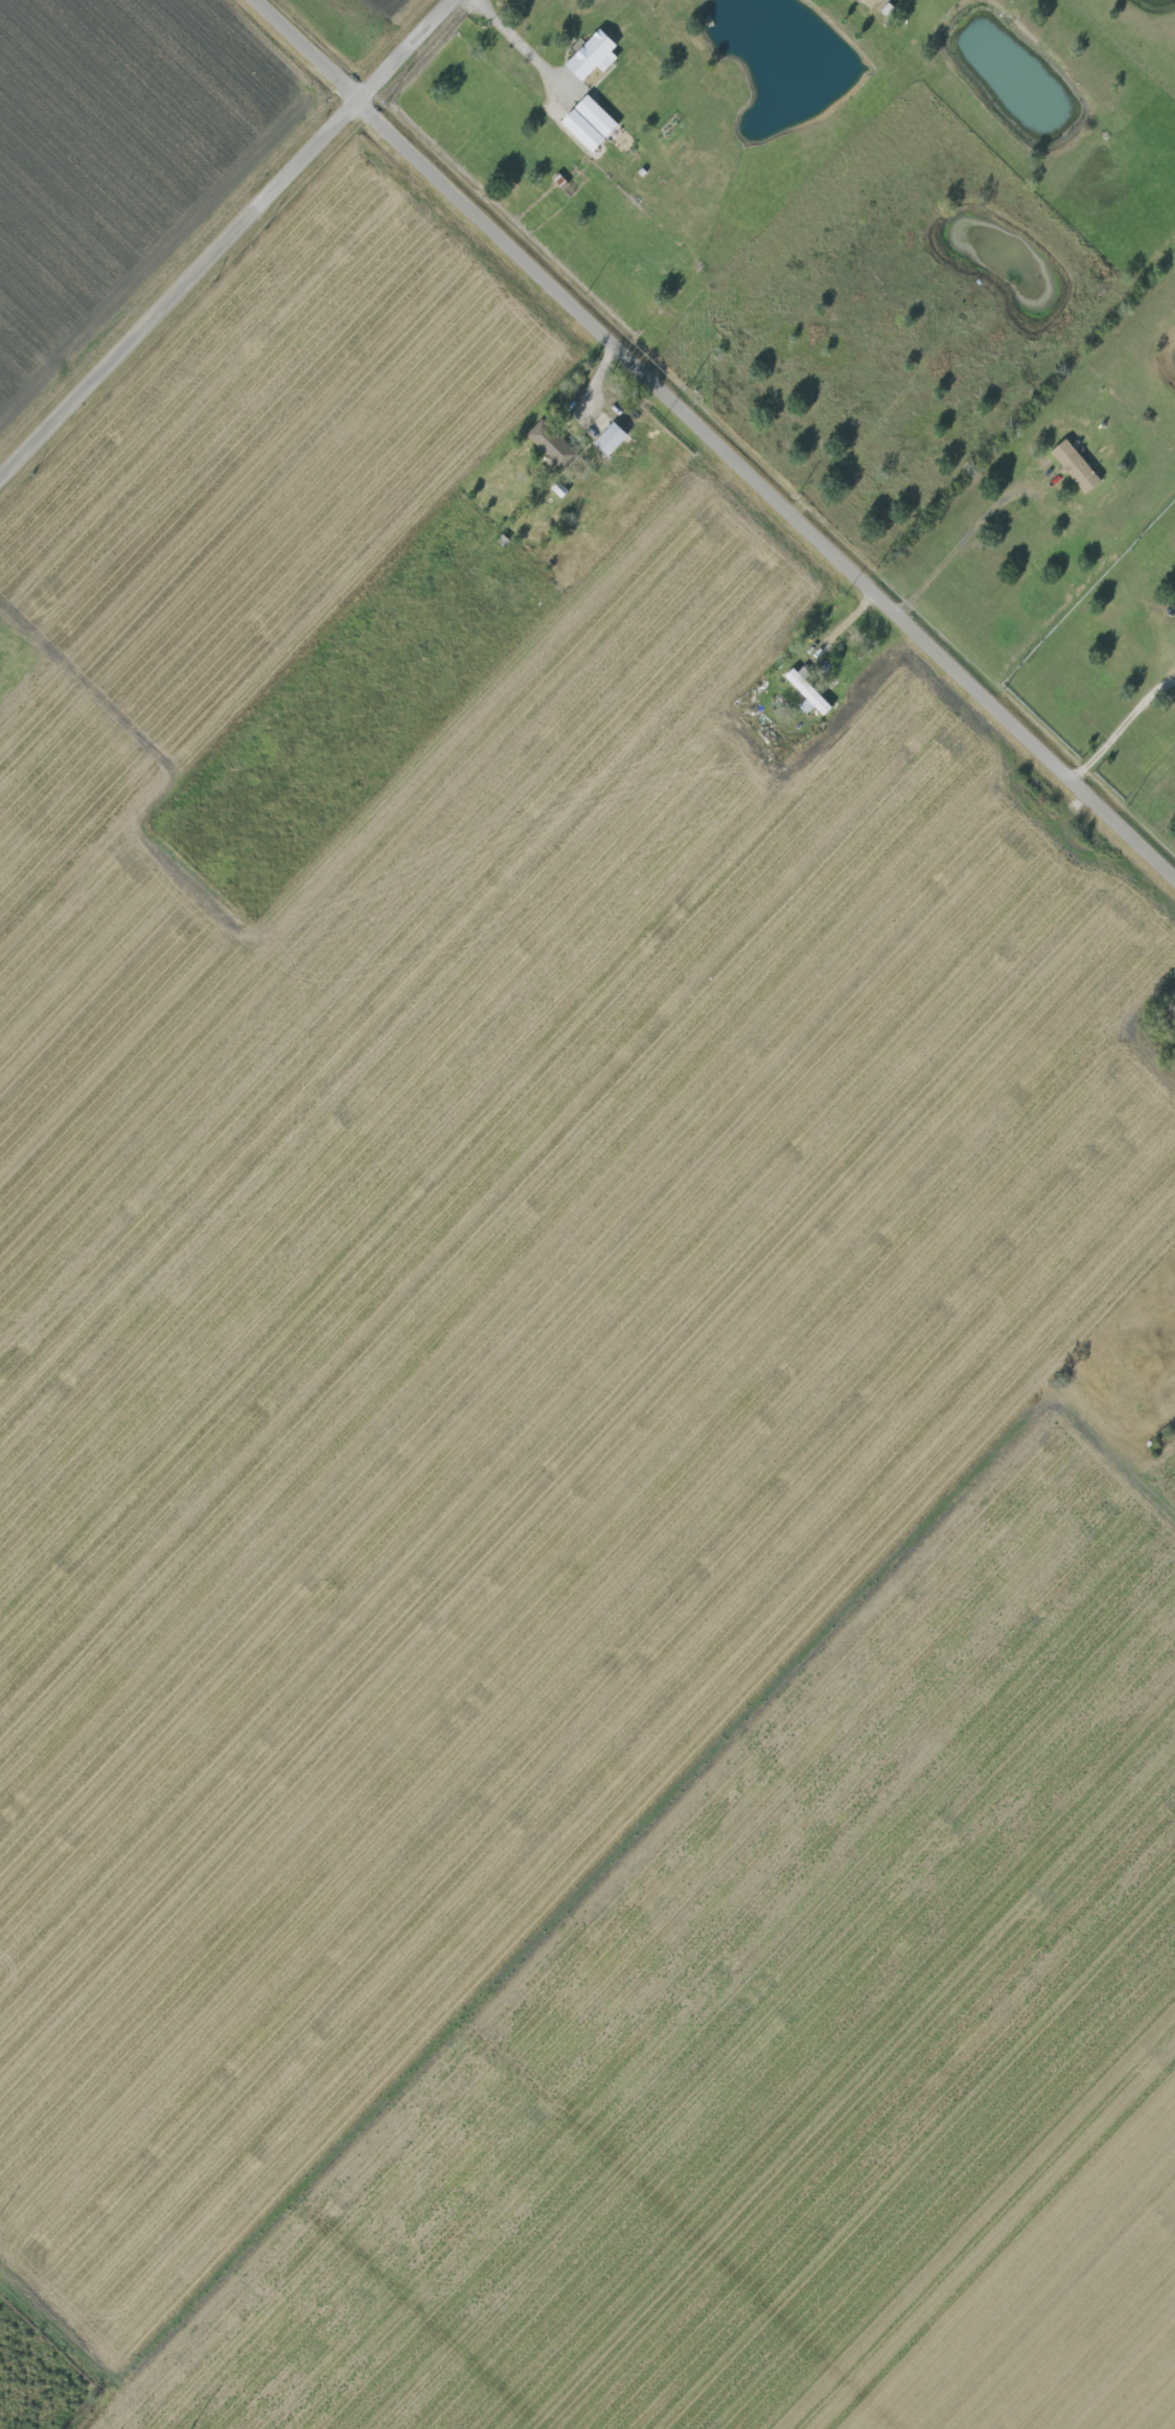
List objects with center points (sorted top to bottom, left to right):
road: (866, 0)
road: (517, 43)
building: (594, 55)
building: (594, 122)
road: (231, 241)
road: (718, 436)
building: (612, 438)
building: (552, 443)
building: (1079, 466)
road: (961, 546)
building: (809, 693)
road: (1122, 721)
road: (69, 2309)
road: (109, 2400)

